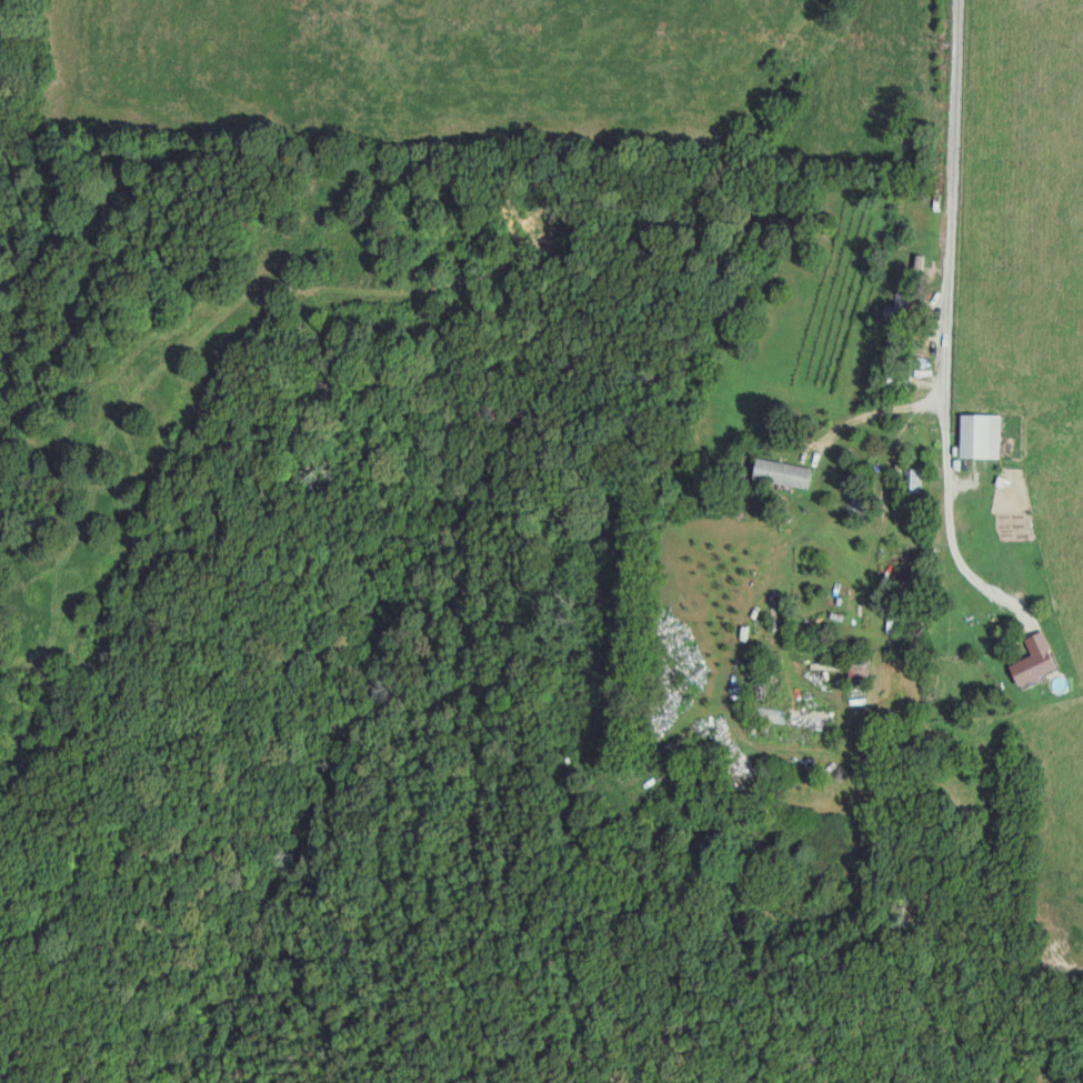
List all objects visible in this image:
building: (899, 321)
road: (944, 329)
road: (872, 409)
building: (983, 437)
building: (786, 473)
building: (913, 481)
building: (1036, 661)

